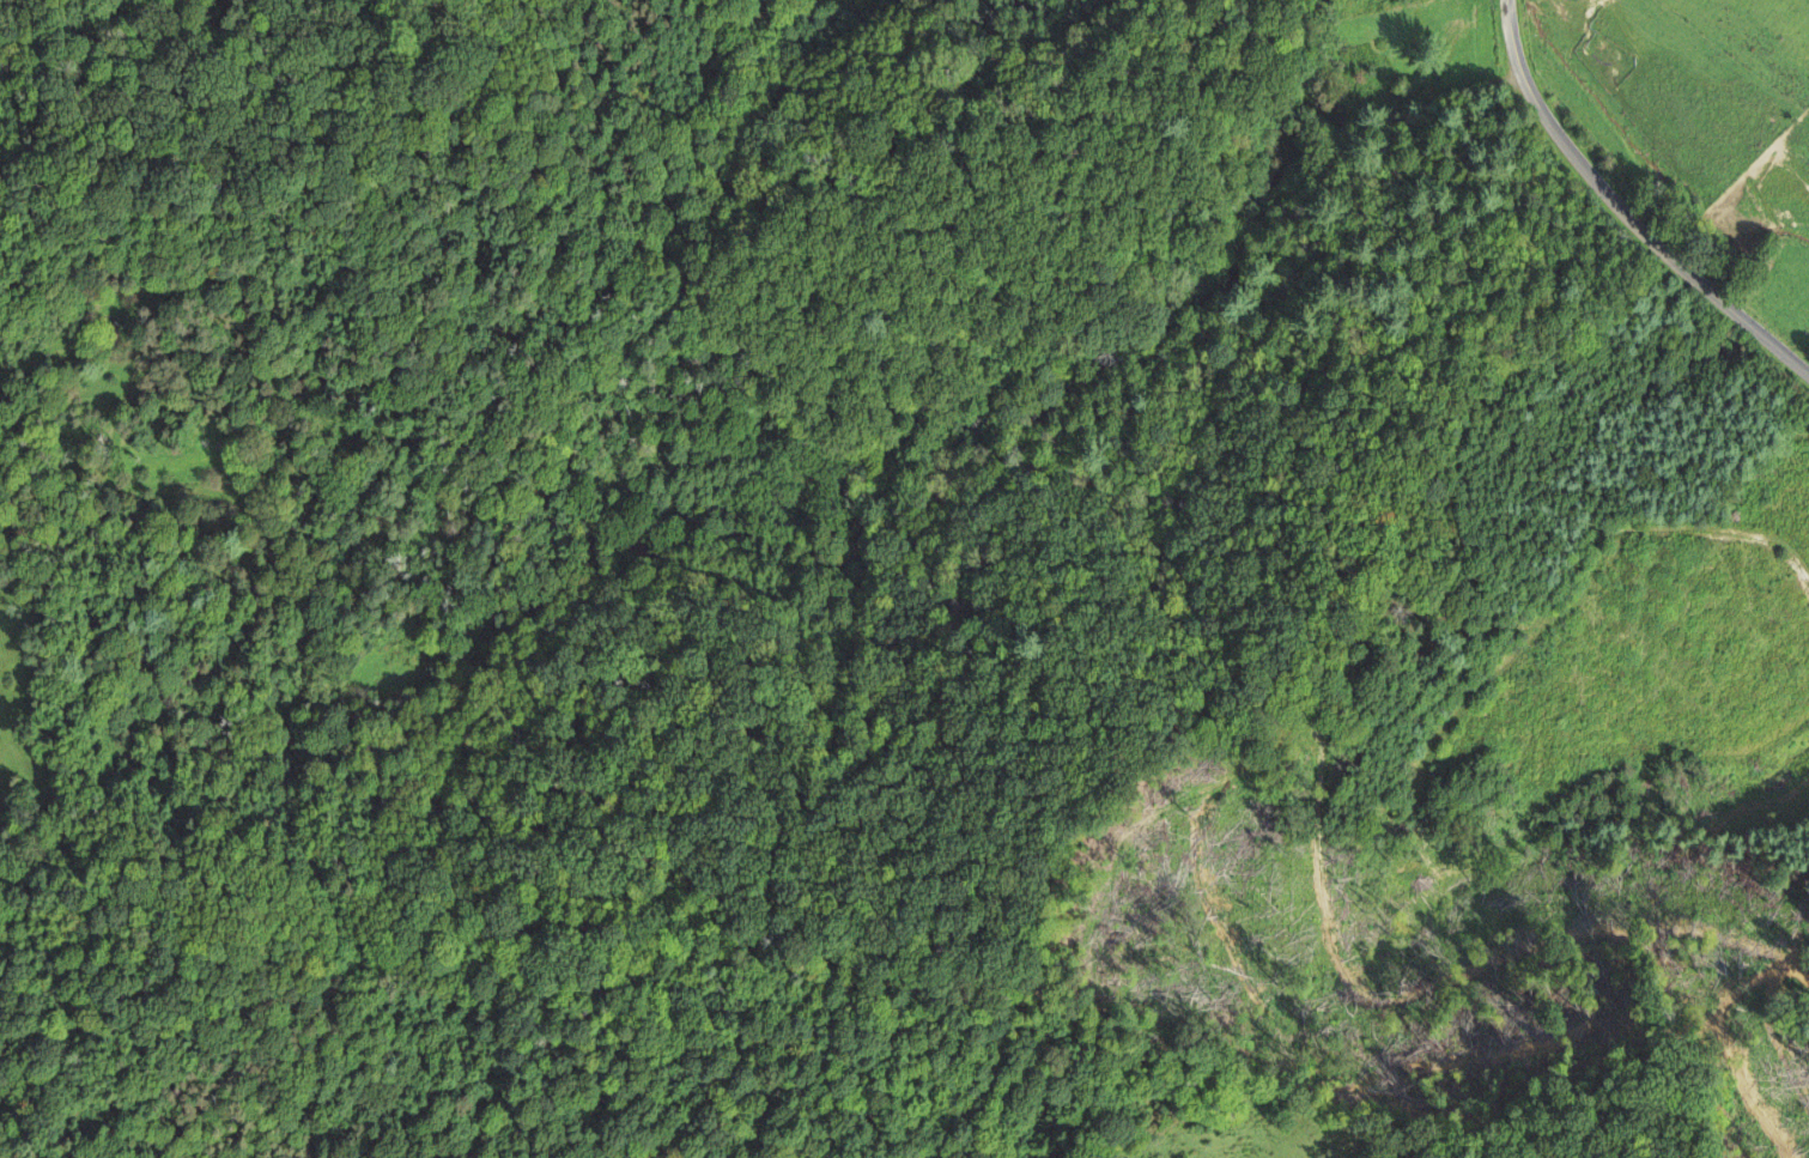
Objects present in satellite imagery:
road: (1625, 204)

